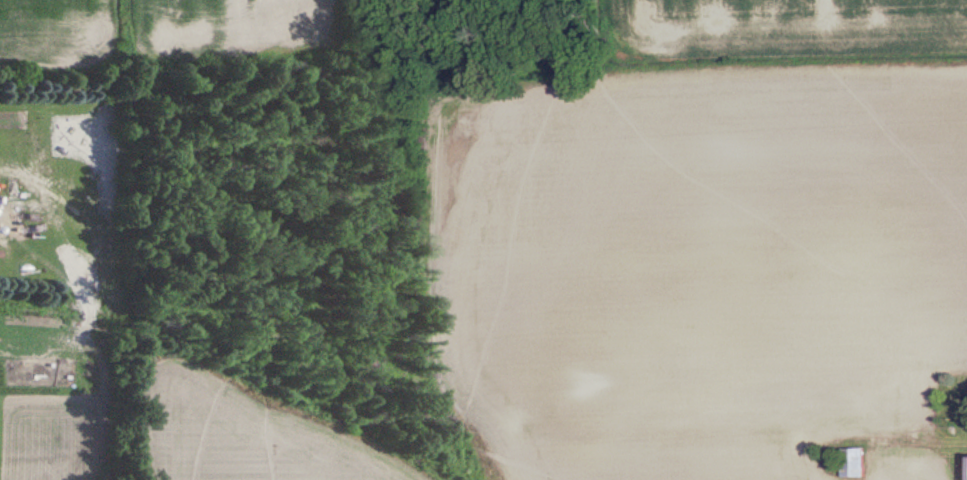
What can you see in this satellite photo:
building: (856, 463)

